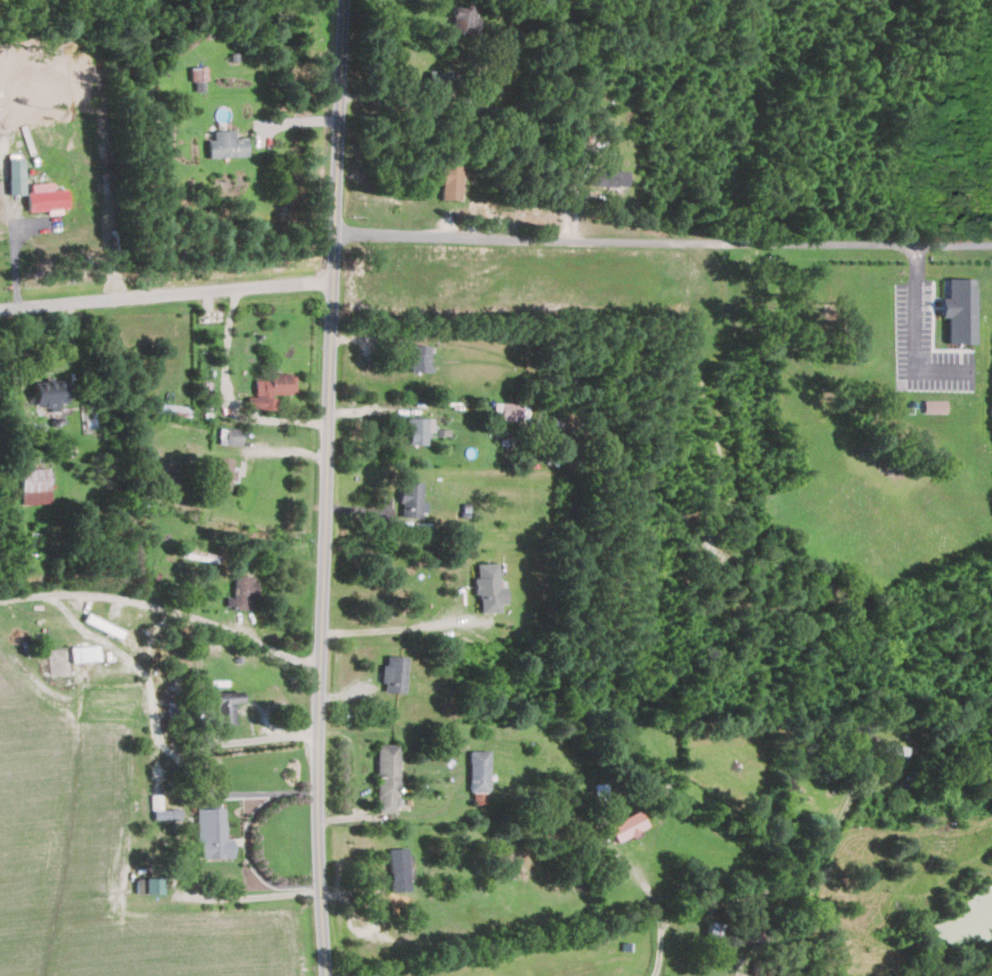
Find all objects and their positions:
building: (464, 19)
building: (197, 78)
building: (437, 83)
building: (224, 145)
building: (14, 174)
building: (606, 177)
building: (449, 180)
building: (45, 199)
road: (661, 240)
road: (990, 243)
road: (166, 293)
building: (957, 309)
road: (917, 335)
building: (416, 358)
building: (269, 388)
building: (47, 393)
road: (226, 400)
building: (934, 406)
building: (510, 411)
building: (416, 429)
building: (229, 436)
road: (285, 450)
building: (218, 473)
building: (33, 486)
road: (329, 488)
building: (409, 499)
building: (242, 563)
building: (487, 588)
building: (242, 592)
road: (165, 607)
road: (399, 626)
building: (134, 641)
road: (125, 658)
building: (78, 661)
building: (392, 674)
building: (221, 707)
building: (477, 772)
building: (385, 778)
building: (625, 826)
building: (210, 834)
road: (247, 840)
building: (396, 870)
building: (147, 886)
road: (788, 888)
road: (247, 896)
road: (658, 913)
building: (715, 935)
building: (751, 936)
building: (766, 968)

